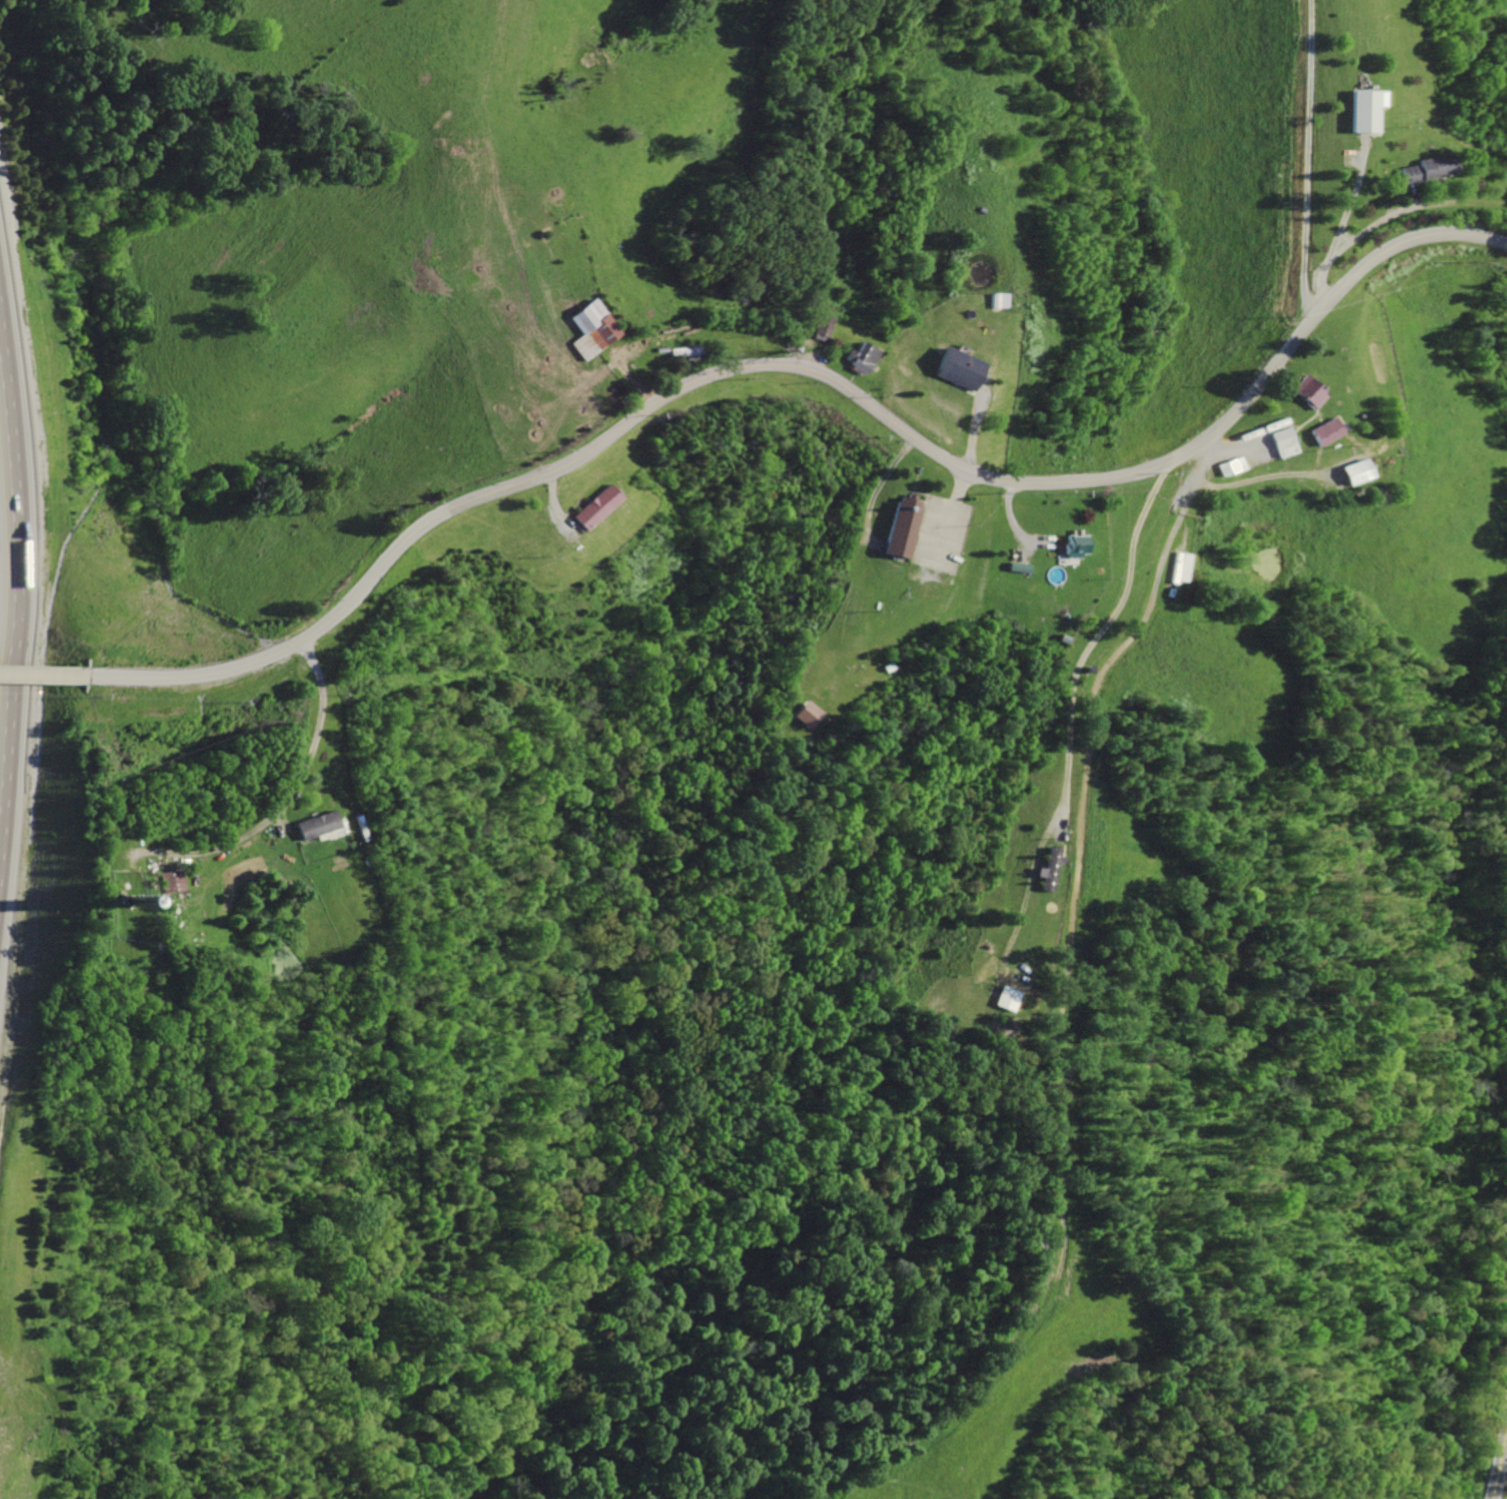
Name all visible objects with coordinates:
building: (1364, 110)
road: (1306, 164)
building: (1424, 169)
road: (1348, 240)
building: (996, 300)
building: (589, 328)
building: (861, 358)
building: (954, 367)
road: (811, 373)
building: (1305, 391)
building: (1322, 431)
road: (1230, 448)
building: (1352, 472)
building: (592, 506)
building: (903, 526)
road: (27, 632)
road: (1094, 639)
road: (43, 675)
building: (802, 713)
road: (290, 799)
building: (310, 824)
building: (1046, 870)
water tower: (128, 893)
road: (1499, 1461)

